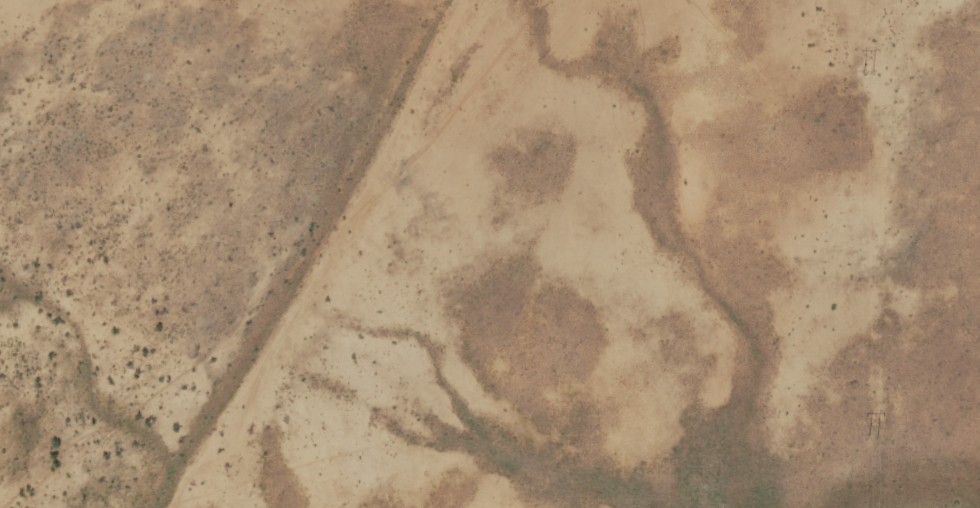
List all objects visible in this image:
power tower: (868, 70)
power tower: (873, 437)

